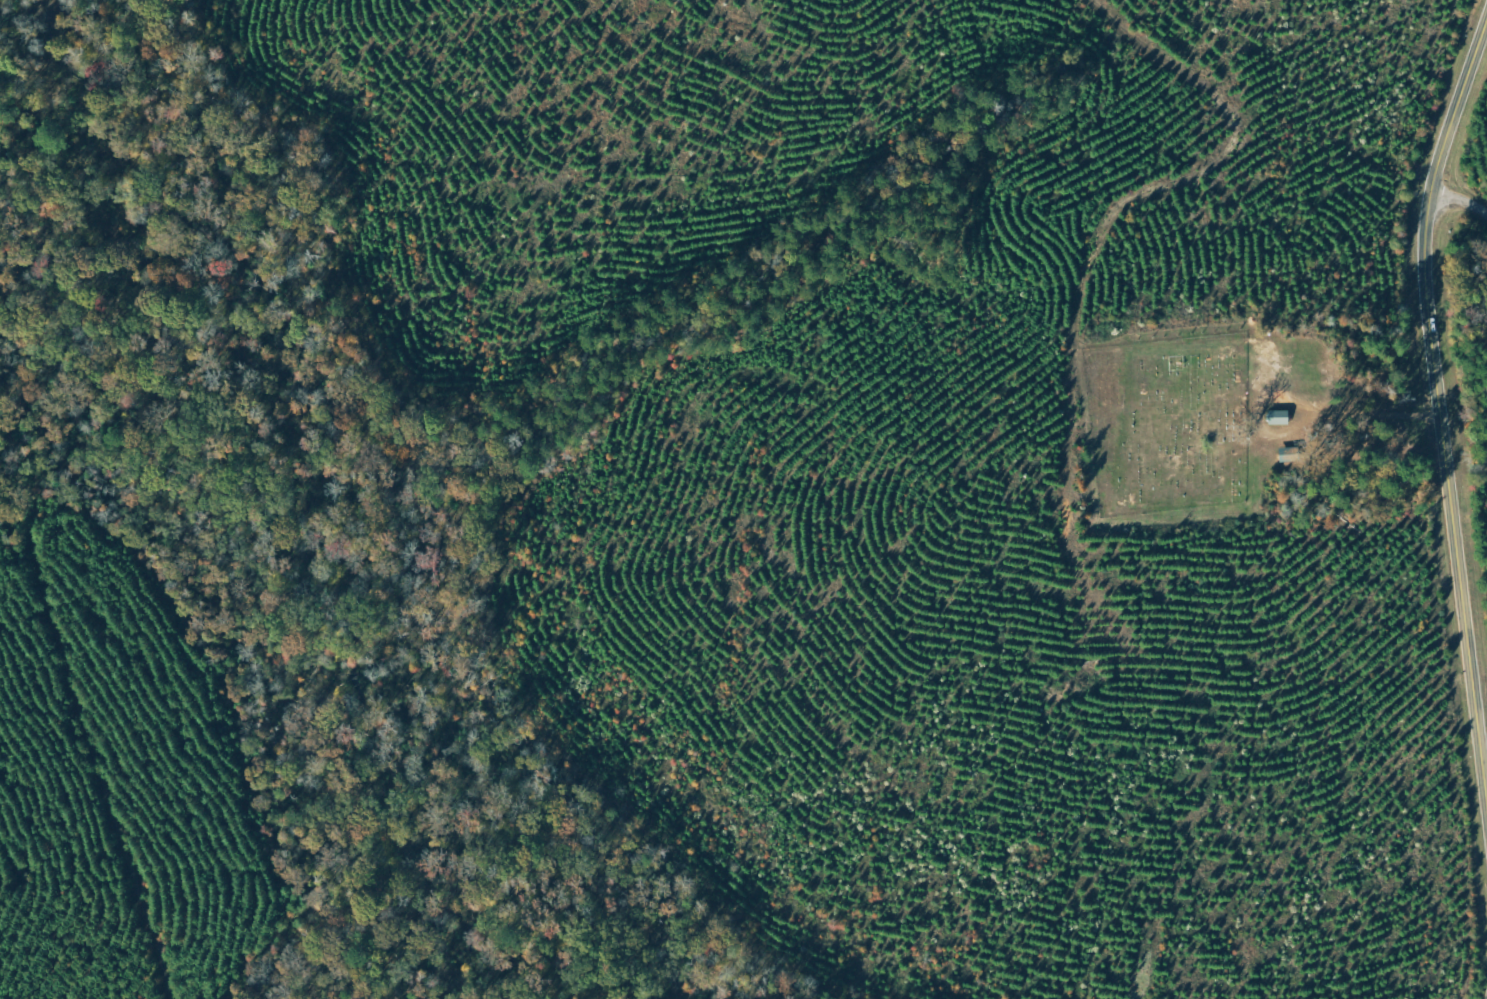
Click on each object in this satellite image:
road: (1460, 202)
road: (1442, 405)
building: (1281, 417)
park: (1184, 428)

